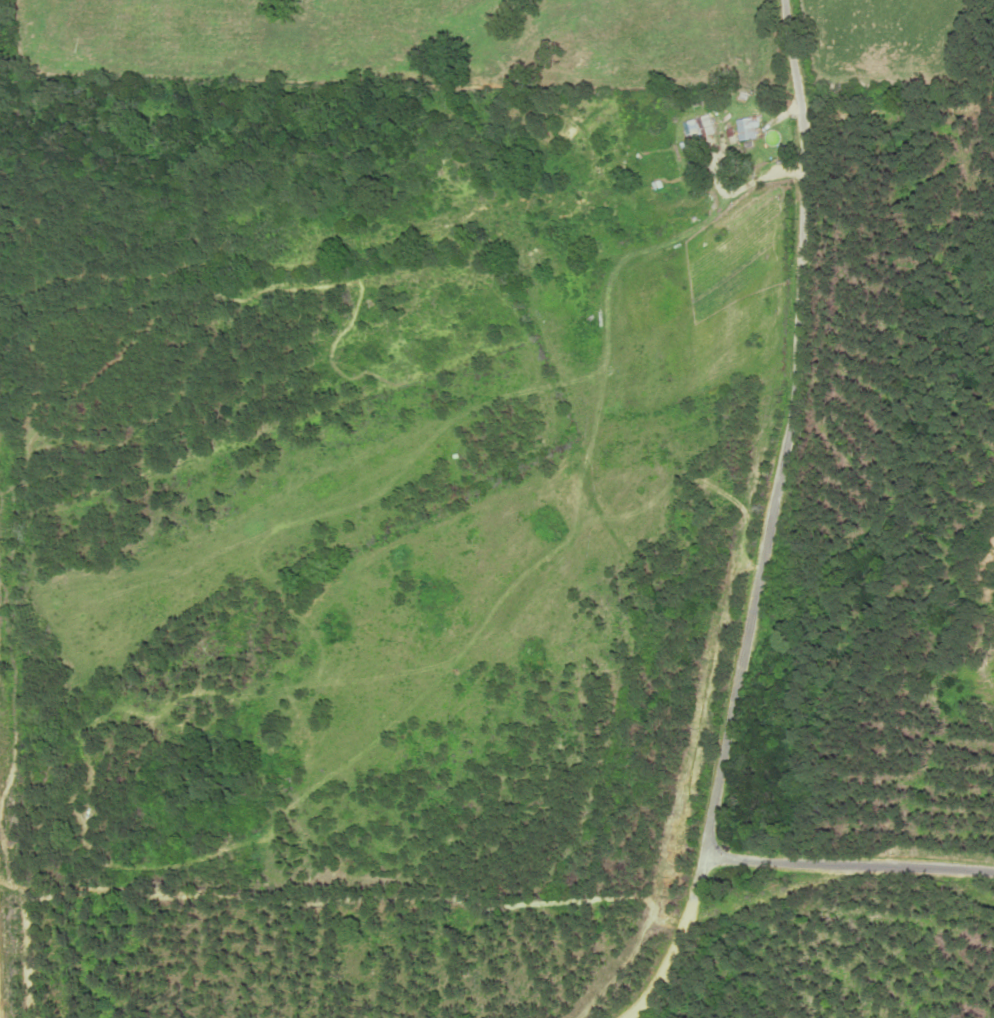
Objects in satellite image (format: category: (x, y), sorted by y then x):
building: (703, 127)
building: (747, 129)
road: (770, 521)
road: (849, 866)

